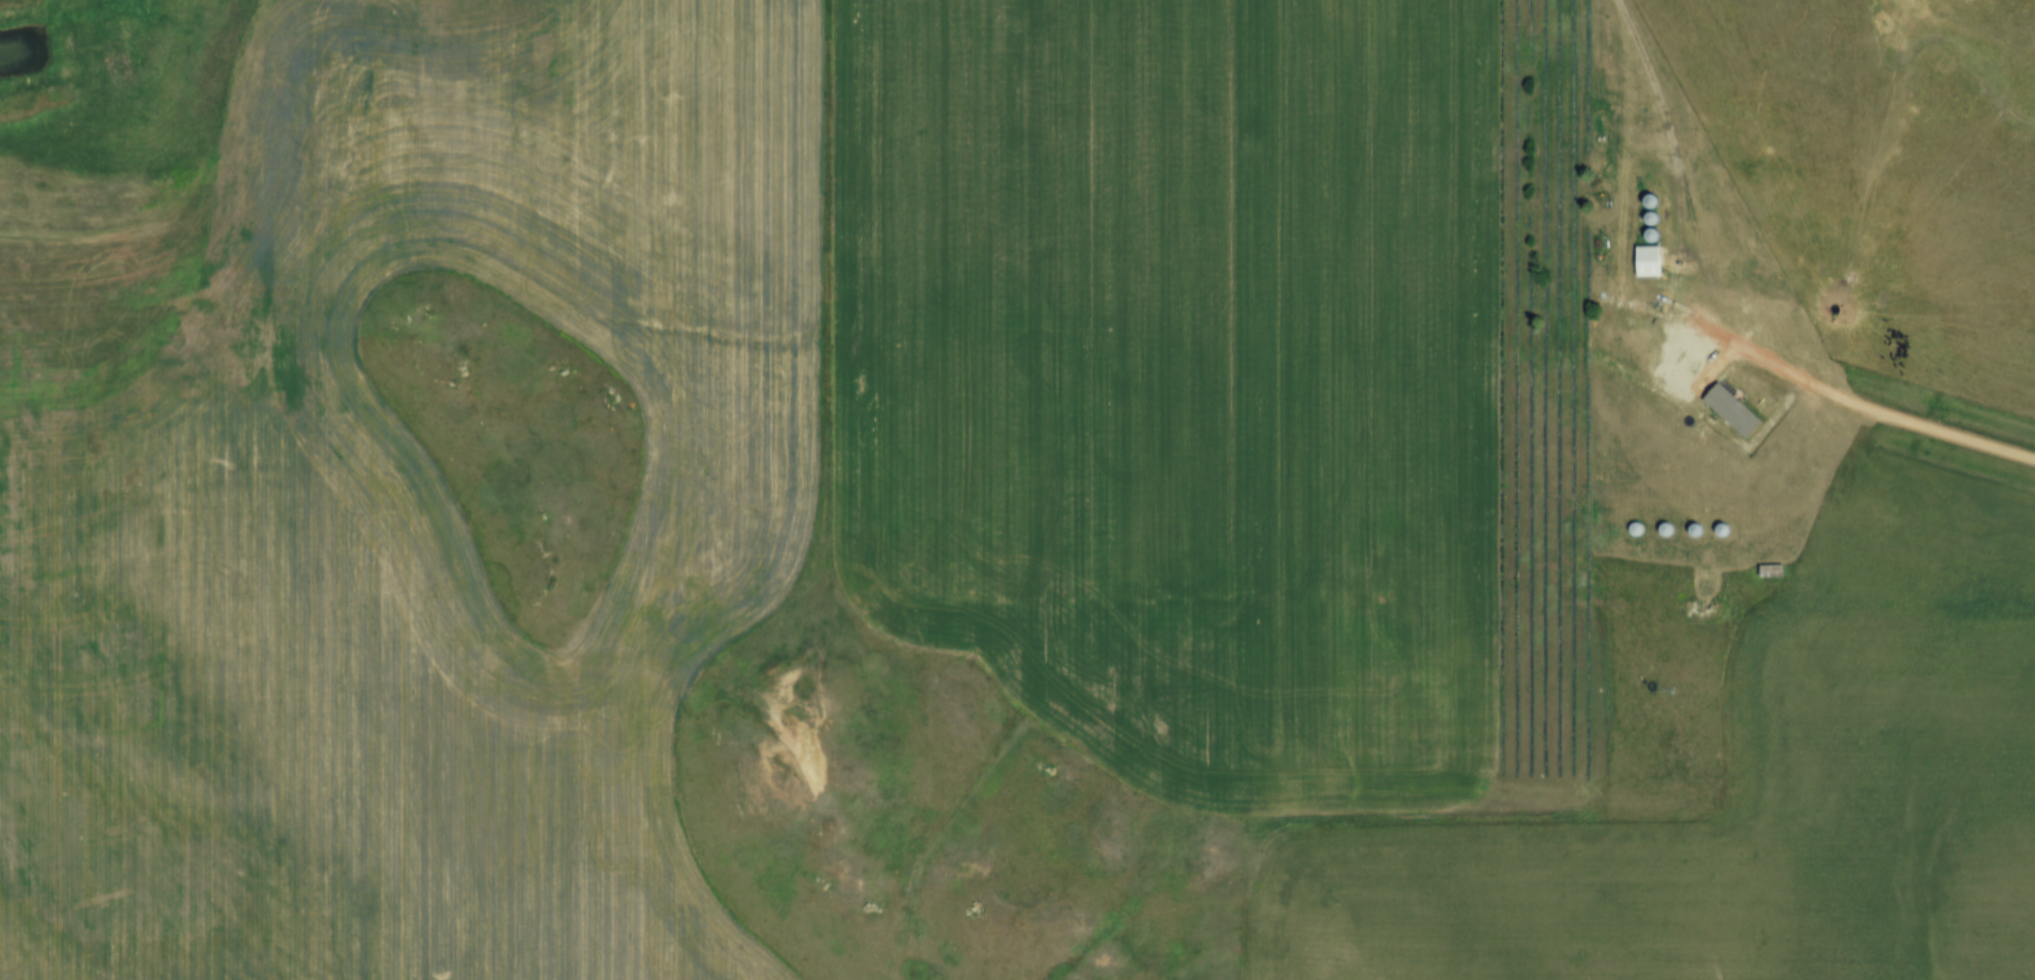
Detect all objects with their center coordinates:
road: (1660, 178)
building: (1650, 261)
building: (1801, 334)
road: (1885, 414)
building: (1666, 529)
building: (1724, 529)
building: (1773, 570)

